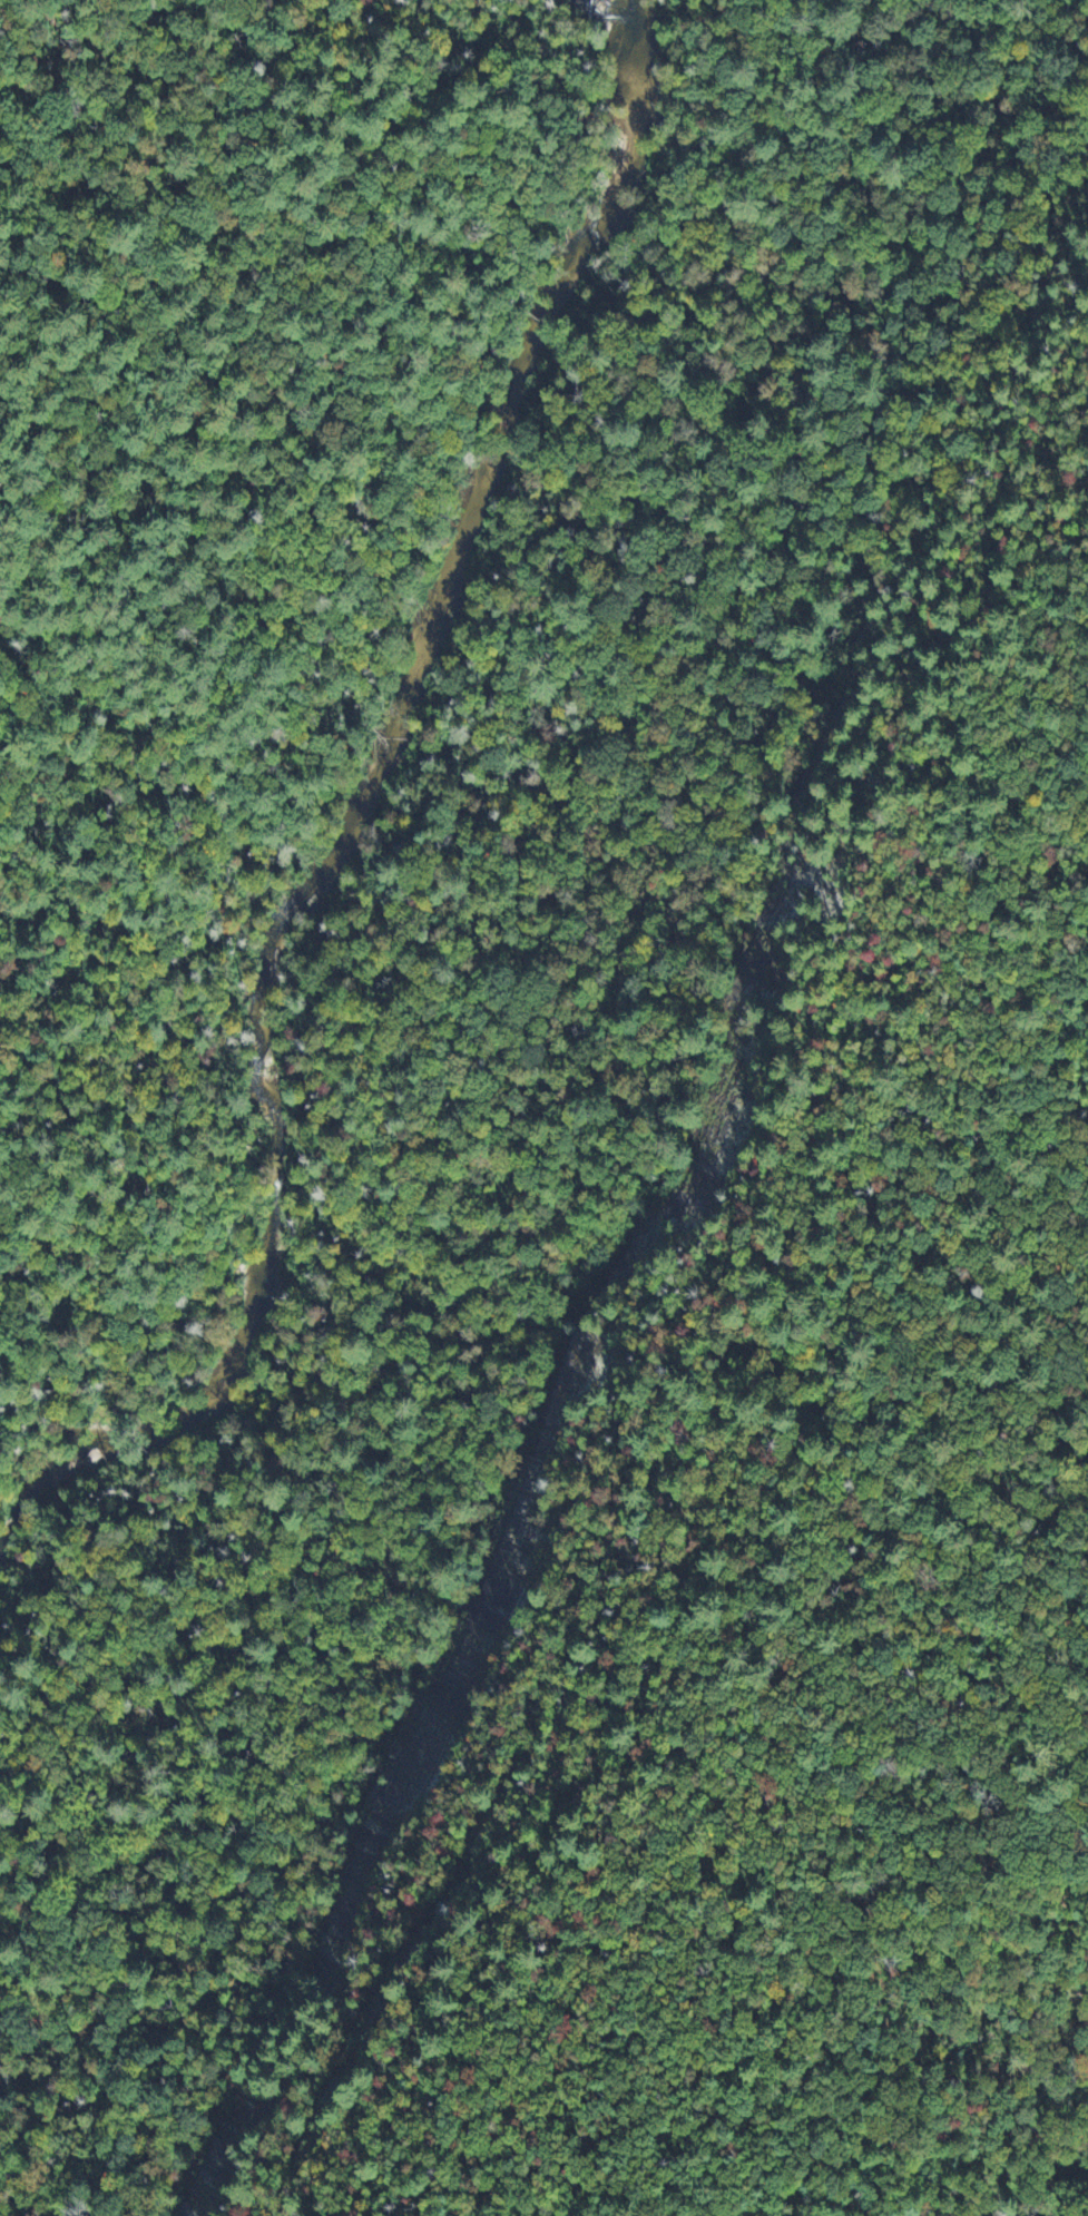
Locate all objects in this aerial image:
river: (343, 837)

